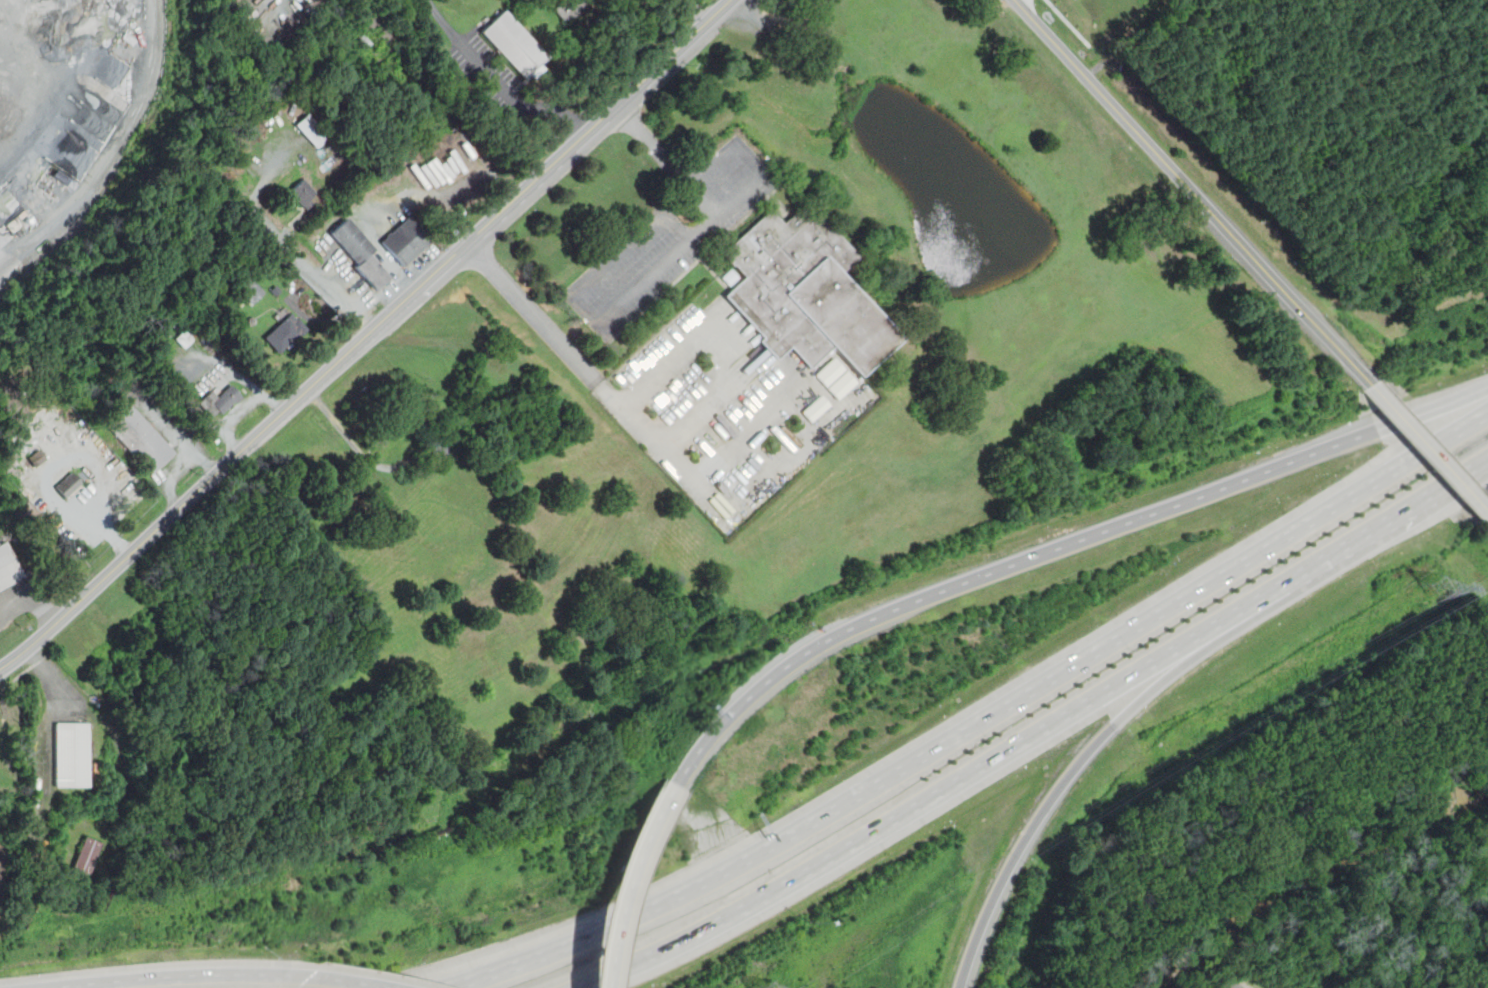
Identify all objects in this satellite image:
building: (514, 45)
road: (674, 52)
road: (496, 82)
building: (311, 130)
road: (668, 160)
building: (303, 192)
road: (1194, 193)
building: (406, 240)
road: (467, 242)
road: (681, 249)
building: (360, 252)
road: (308, 266)
building: (251, 289)
building: (804, 290)
building: (286, 332)
road: (723, 332)
building: (835, 378)
building: (219, 400)
building: (816, 407)
road: (1435, 408)
building: (141, 438)
road: (1431, 445)
building: (68, 484)
road: (713, 499)
road: (159, 527)
road: (1364, 532)
building: (8, 568)
road: (1003, 568)
power tower: (1437, 590)
road: (31, 599)
road: (1178, 664)
road: (979, 722)
building: (72, 753)
road: (914, 806)
road: (1020, 845)
building: (86, 856)
road: (622, 881)
road: (174, 975)
road: (349, 981)

